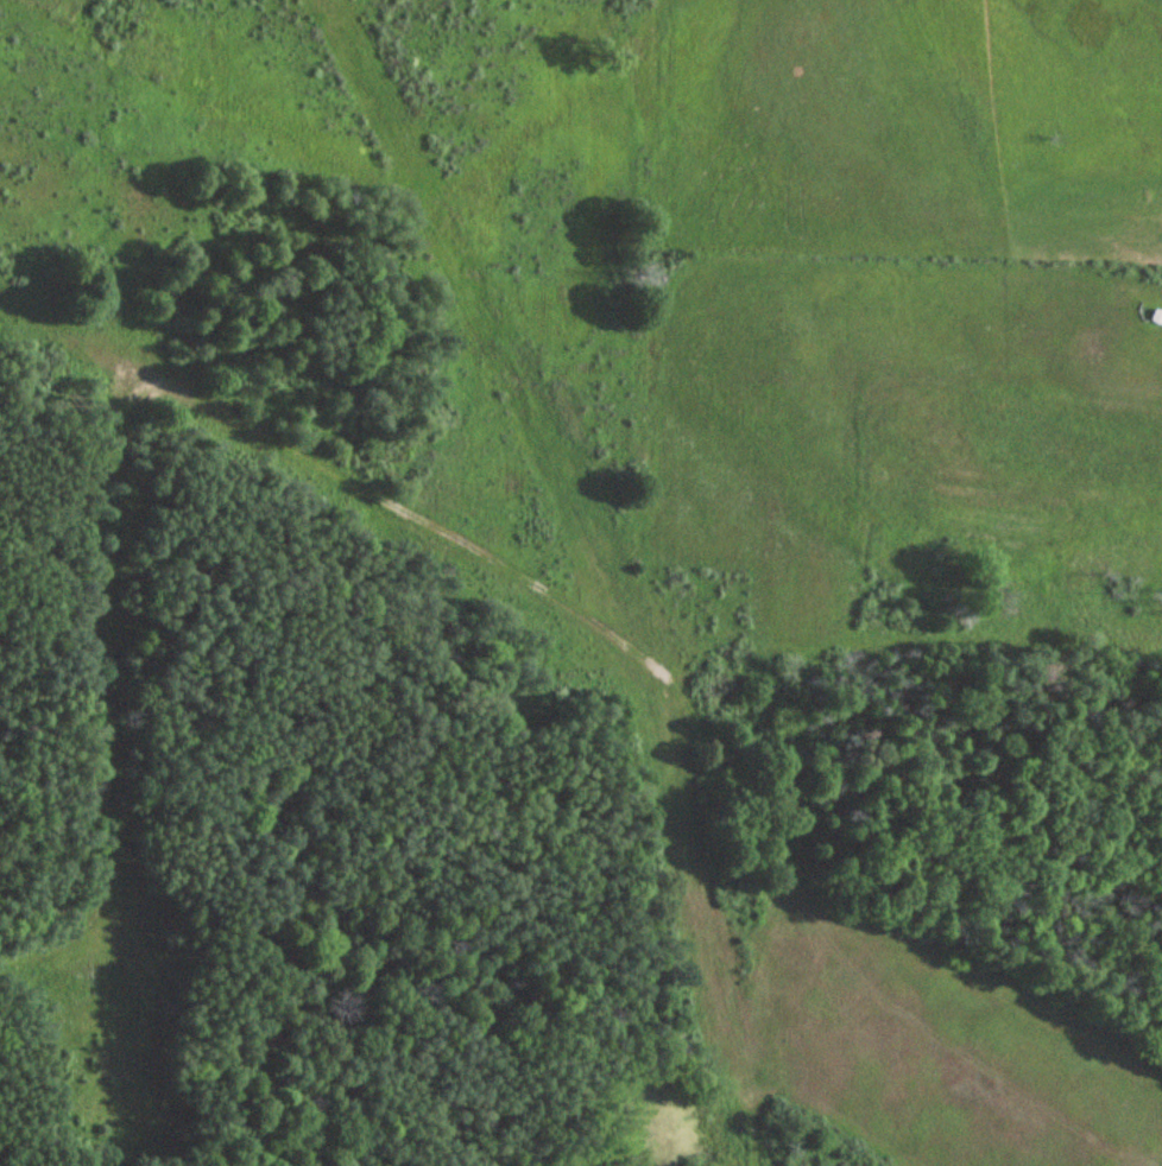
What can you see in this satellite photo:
road: (71, 576)

